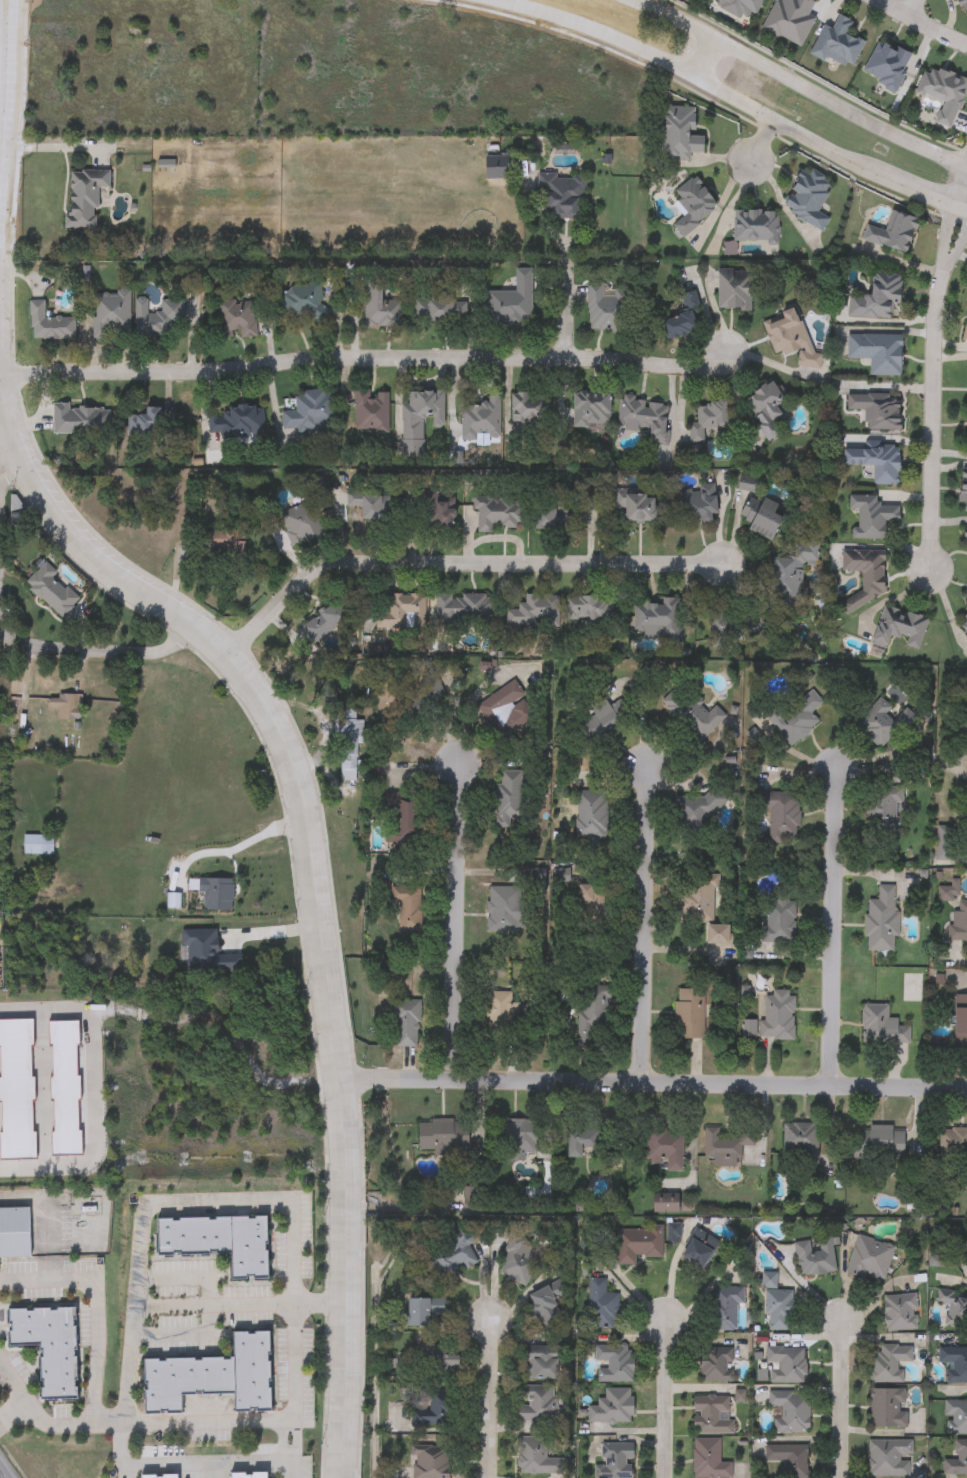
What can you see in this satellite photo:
building: (961, 6)
building: (740, 7)
road: (911, 7)
building: (790, 20)
road: (922, 23)
road: (592, 30)
building: (837, 43)
road: (696, 52)
building: (887, 63)
road: (2, 81)
road: (801, 83)
building: (943, 92)
road: (787, 129)
building: (681, 133)
road: (761, 141)
building: (562, 195)
road: (928, 196)
building: (85, 197)
building: (808, 198)
road: (965, 205)
building: (693, 206)
road: (965, 210)
building: (756, 227)
building: (892, 233)
building: (735, 290)
building: (877, 298)
building: (303, 302)
building: (512, 302)
building: (380, 308)
road: (568, 308)
building: (440, 309)
building: (606, 309)
building: (110, 315)
building: (157, 318)
building: (236, 319)
building: (682, 319)
building: (48, 324)
building: (964, 330)
building: (790, 338)
building: (878, 352)
road: (368, 364)
road: (932, 387)
building: (766, 408)
building: (530, 409)
building: (591, 409)
building: (877, 410)
building: (310, 412)
building: (371, 412)
building: (645, 417)
building: (707, 419)
building: (80, 420)
building: (420, 420)
building: (479, 420)
building: (145, 423)
building: (237, 424)
building: (875, 462)
road: (7, 469)
building: (963, 489)
building: (697, 504)
building: (369, 507)
building: (635, 507)
building: (437, 511)
building: (499, 515)
building: (558, 518)
building: (762, 518)
building: (871, 518)
building: (301, 524)
building: (965, 537)
building: (226, 544)
road: (459, 562)
building: (792, 567)
building: (866, 575)
building: (51, 591)
building: (966, 599)
building: (463, 606)
road: (947, 608)
building: (590, 609)
building: (403, 612)
building: (534, 612)
building: (656, 618)
building: (324, 622)
building: (964, 625)
building: (723, 628)
building: (899, 628)
road: (94, 652)
building: (500, 705)
building: (65, 706)
building: (419, 706)
building: (691, 712)
building: (796, 717)
building: (601, 721)
building: (883, 724)
building: (963, 726)
building: (347, 739)
road: (292, 765)
building: (511, 801)
building: (884, 811)
building: (591, 814)
building: (782, 817)
building: (403, 820)
building: (945, 843)
building: (38, 845)
road: (240, 846)
building: (215, 895)
building: (697, 897)
building: (590, 898)
building: (408, 908)
building: (508, 908)
building: (881, 920)
building: (778, 921)
road: (453, 923)
building: (959, 924)
road: (642, 925)
road: (833, 926)
road: (270, 931)
building: (718, 937)
building: (173, 955)
building: (500, 1013)
building: (689, 1013)
building: (777, 1015)
building: (593, 1016)
building: (960, 1021)
building: (406, 1022)
building: (881, 1026)
road: (654, 1084)
road: (95, 1090)
building: (443, 1134)
building: (517, 1135)
building: (581, 1142)
building: (800, 1142)
building: (878, 1142)
building: (952, 1143)
building: (724, 1146)
building: (665, 1149)
road: (216, 1199)
building: (669, 1205)
building: (14, 1233)
building: (673, 1235)
road: (53, 1242)
building: (218, 1242)
building: (638, 1244)
building: (966, 1245)
building: (700, 1249)
building: (449, 1256)
building: (814, 1257)
building: (870, 1259)
building: (518, 1261)
road: (213, 1302)
road: (319, 1302)
building: (546, 1304)
building: (600, 1305)
building: (725, 1307)
building: (953, 1308)
building: (421, 1312)
building: (900, 1312)
road: (183, 1334)
road: (97, 1335)
building: (48, 1347)
building: (543, 1361)
building: (438, 1362)
building: (888, 1363)
building: (954, 1363)
building: (614, 1364)
building: (715, 1365)
building: (786, 1365)
building: (212, 1377)
road: (293, 1390)
road: (126, 1391)
road: (489, 1397)
road: (666, 1398)
road: (841, 1398)
building: (538, 1407)
building: (612, 1407)
building: (887, 1408)
building: (436, 1412)
building: (790, 1412)
road: (13, 1413)
building: (711, 1415)
building: (956, 1418)
road: (131, 1421)
building: (536, 1458)
building: (888, 1458)
building: (789, 1459)
building: (956, 1459)
building: (616, 1460)
building: (708, 1460)
road: (209, 1462)
building: (431, 1464)
road: (4, 1471)
building: (249, 1475)
building: (159, 1476)

